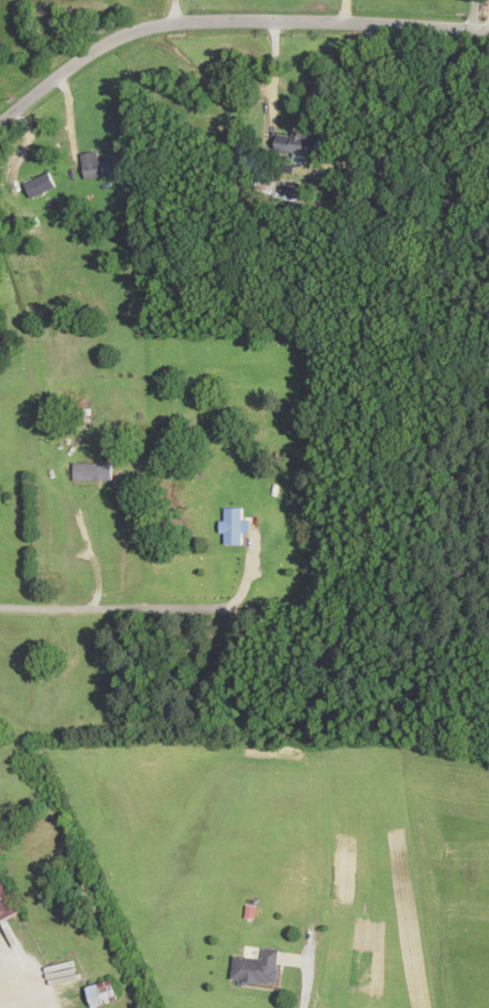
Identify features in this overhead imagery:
road: (470, 16)
road: (230, 20)
building: (299, 145)
building: (100, 167)
building: (41, 186)
building: (93, 473)
building: (233, 527)
road: (3, 813)
building: (6, 903)
building: (257, 968)
building: (103, 994)

